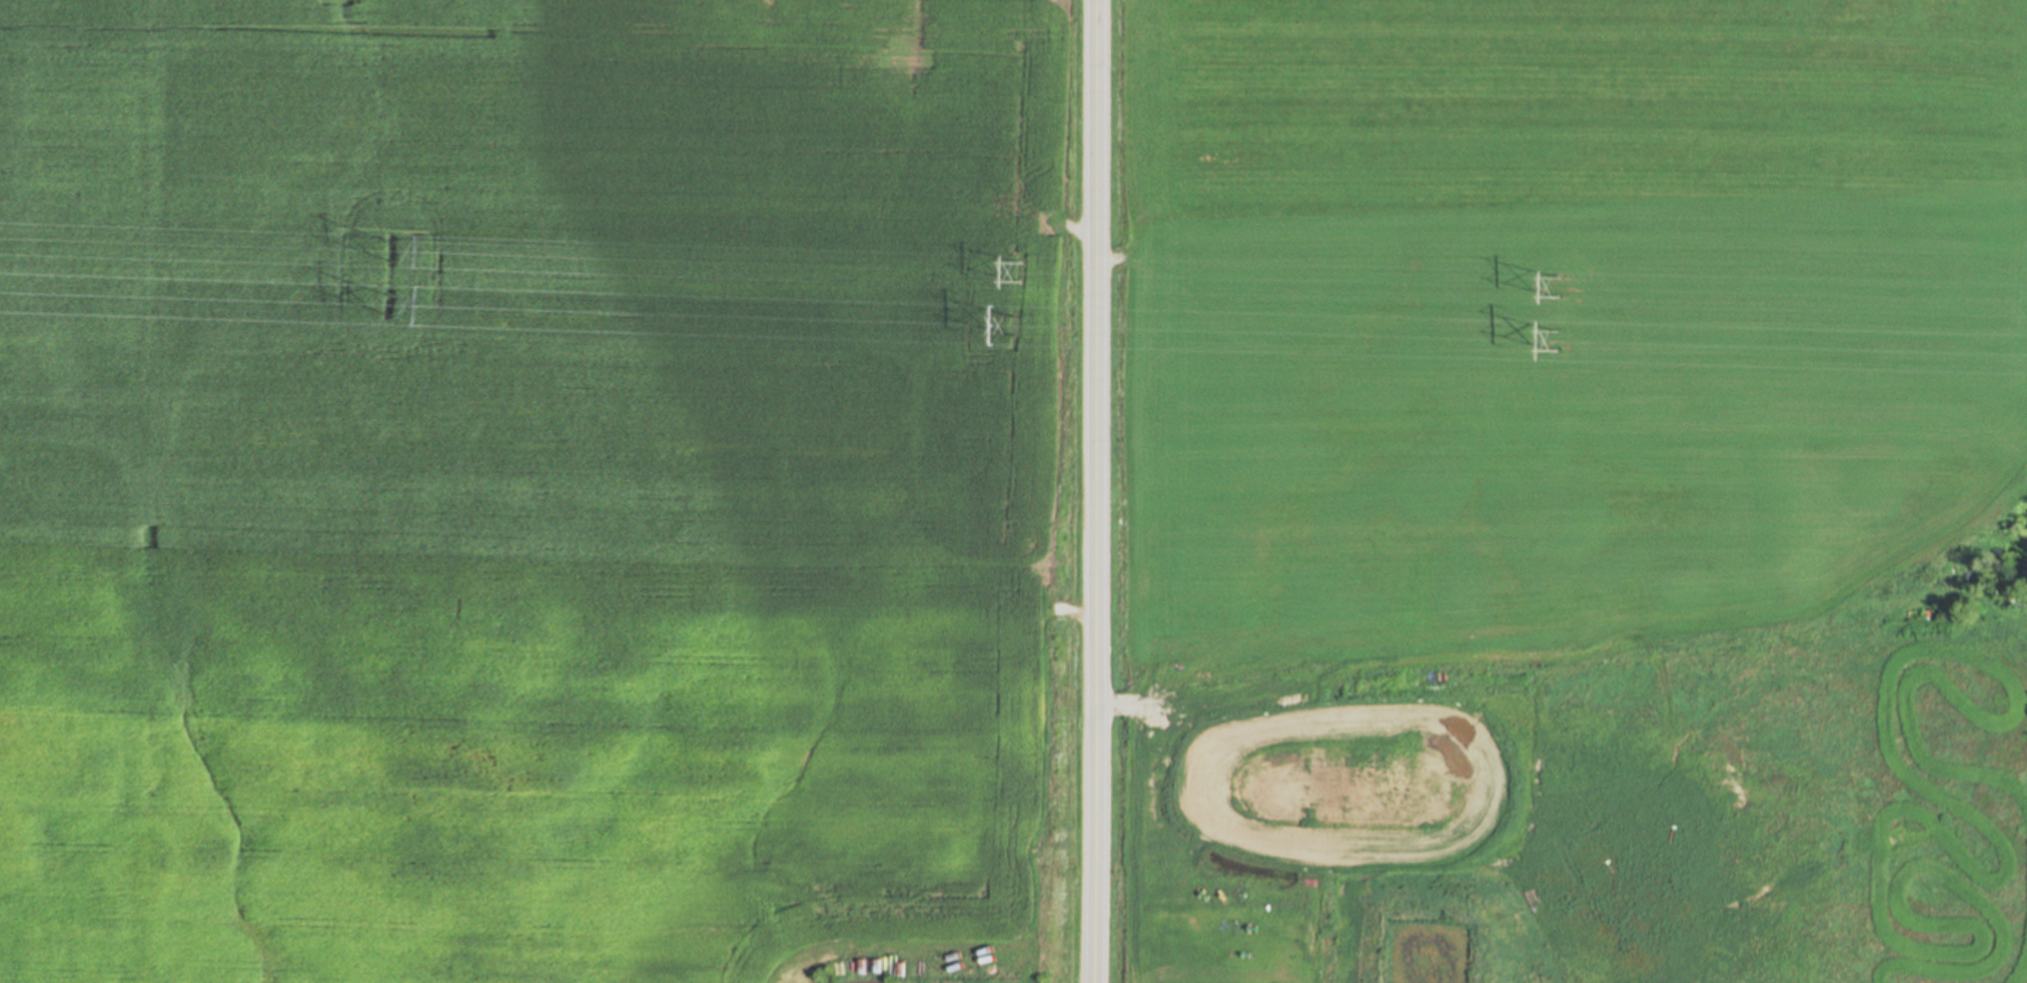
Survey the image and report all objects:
power tower: (387, 250)
power tower: (1021, 268)
power tower: (1557, 284)
power tower: (385, 302)
power tower: (1020, 324)
power tower: (1557, 337)
road: (1097, 491)
building: (1235, 821)
road: (1132, 825)
building: (1223, 845)
building: (1227, 896)

